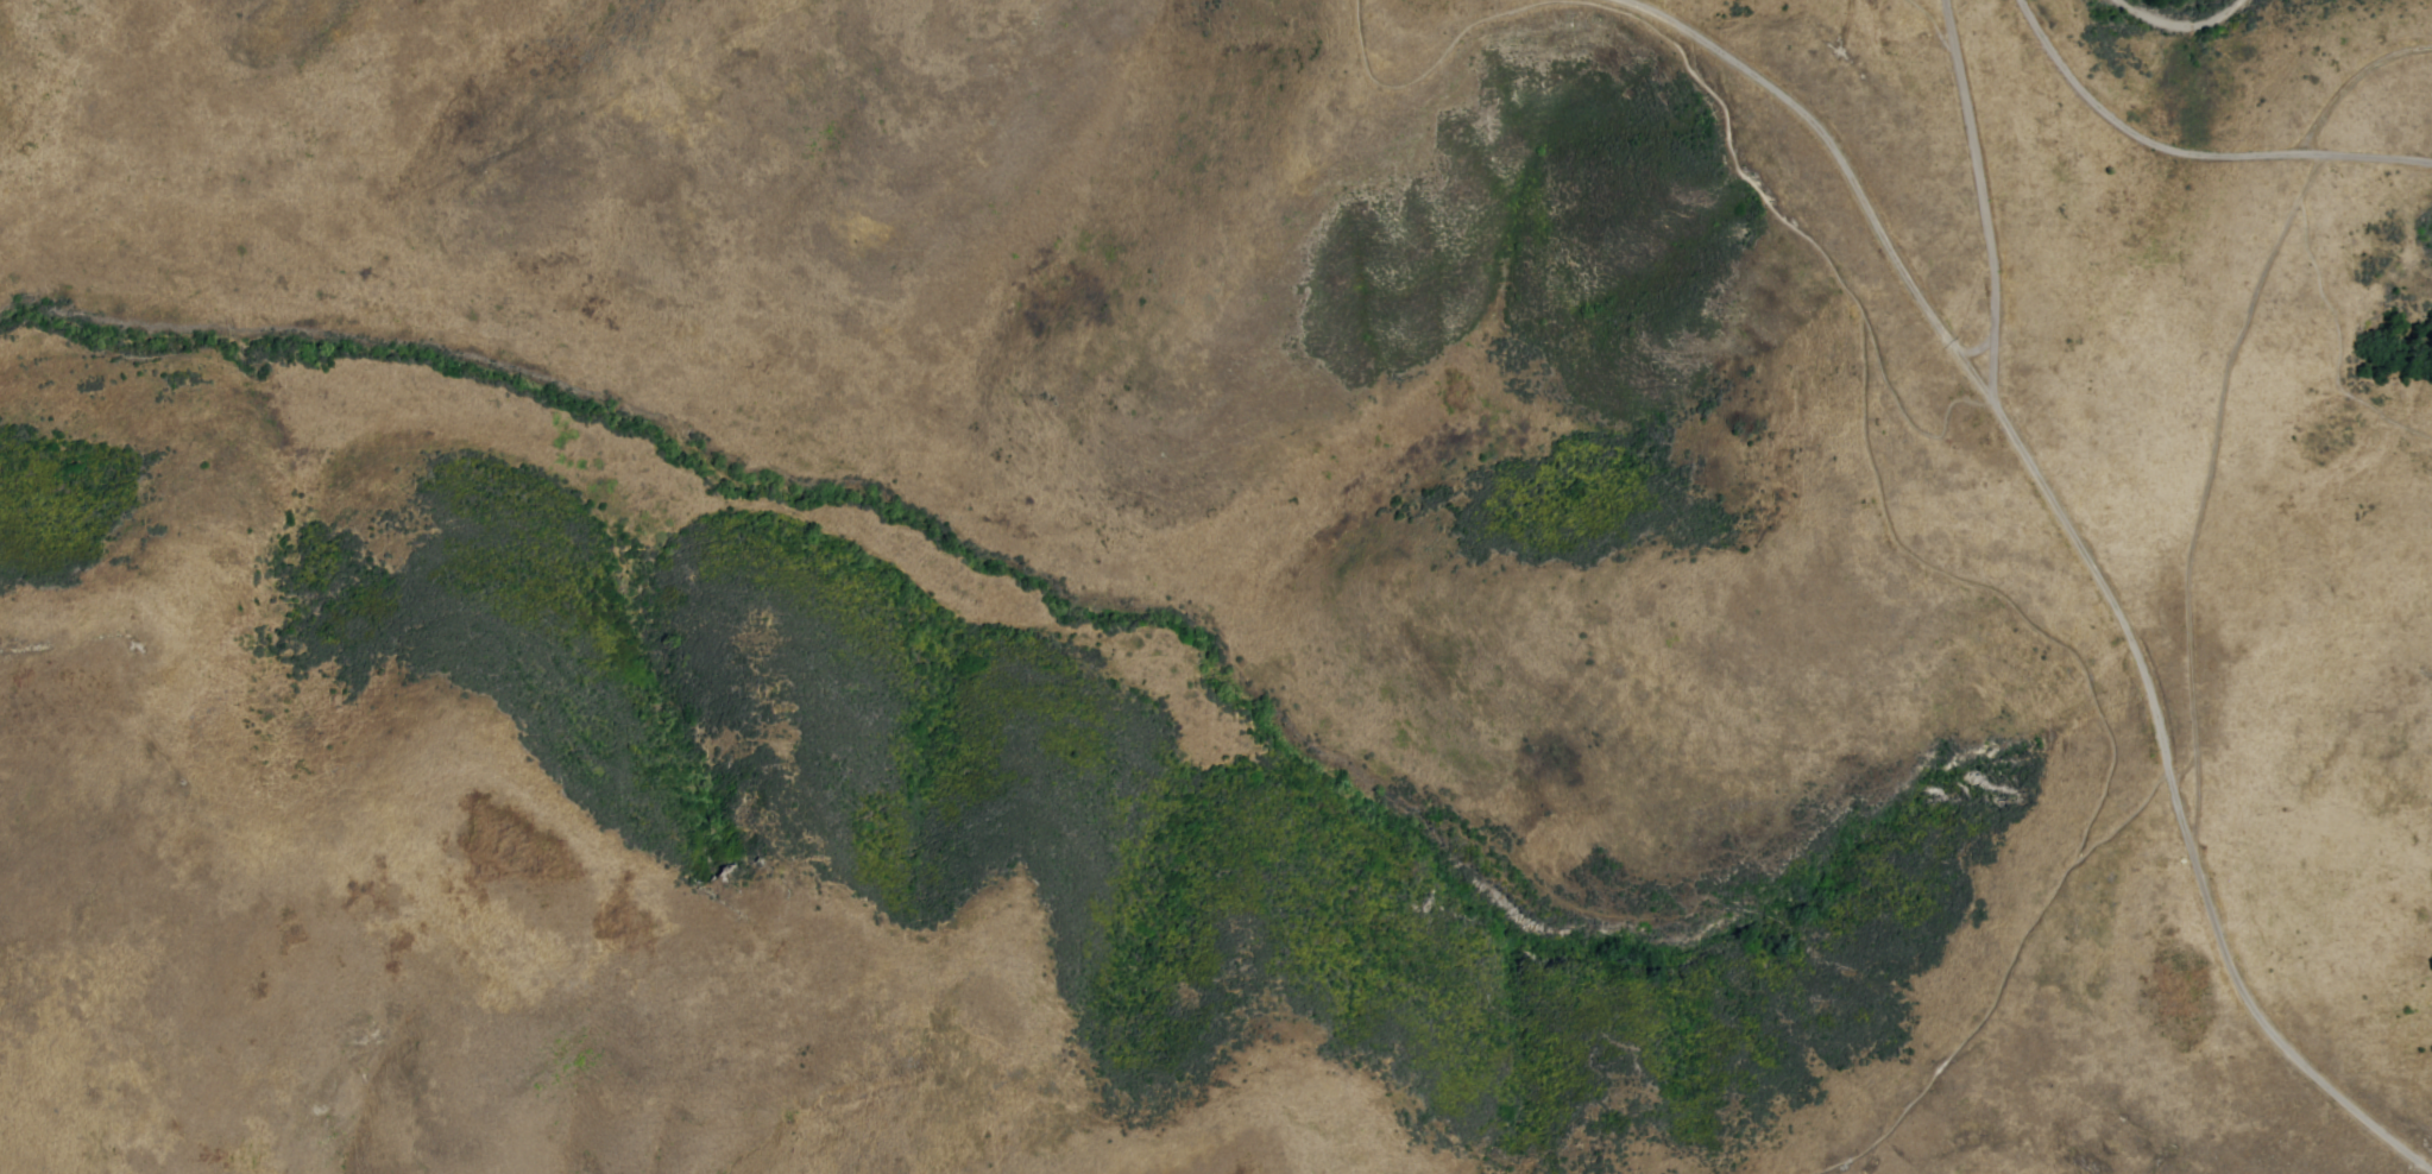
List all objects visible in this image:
road: (2181, 23)
road: (2338, 337)
road: (2218, 399)
road: (2255, 1001)

